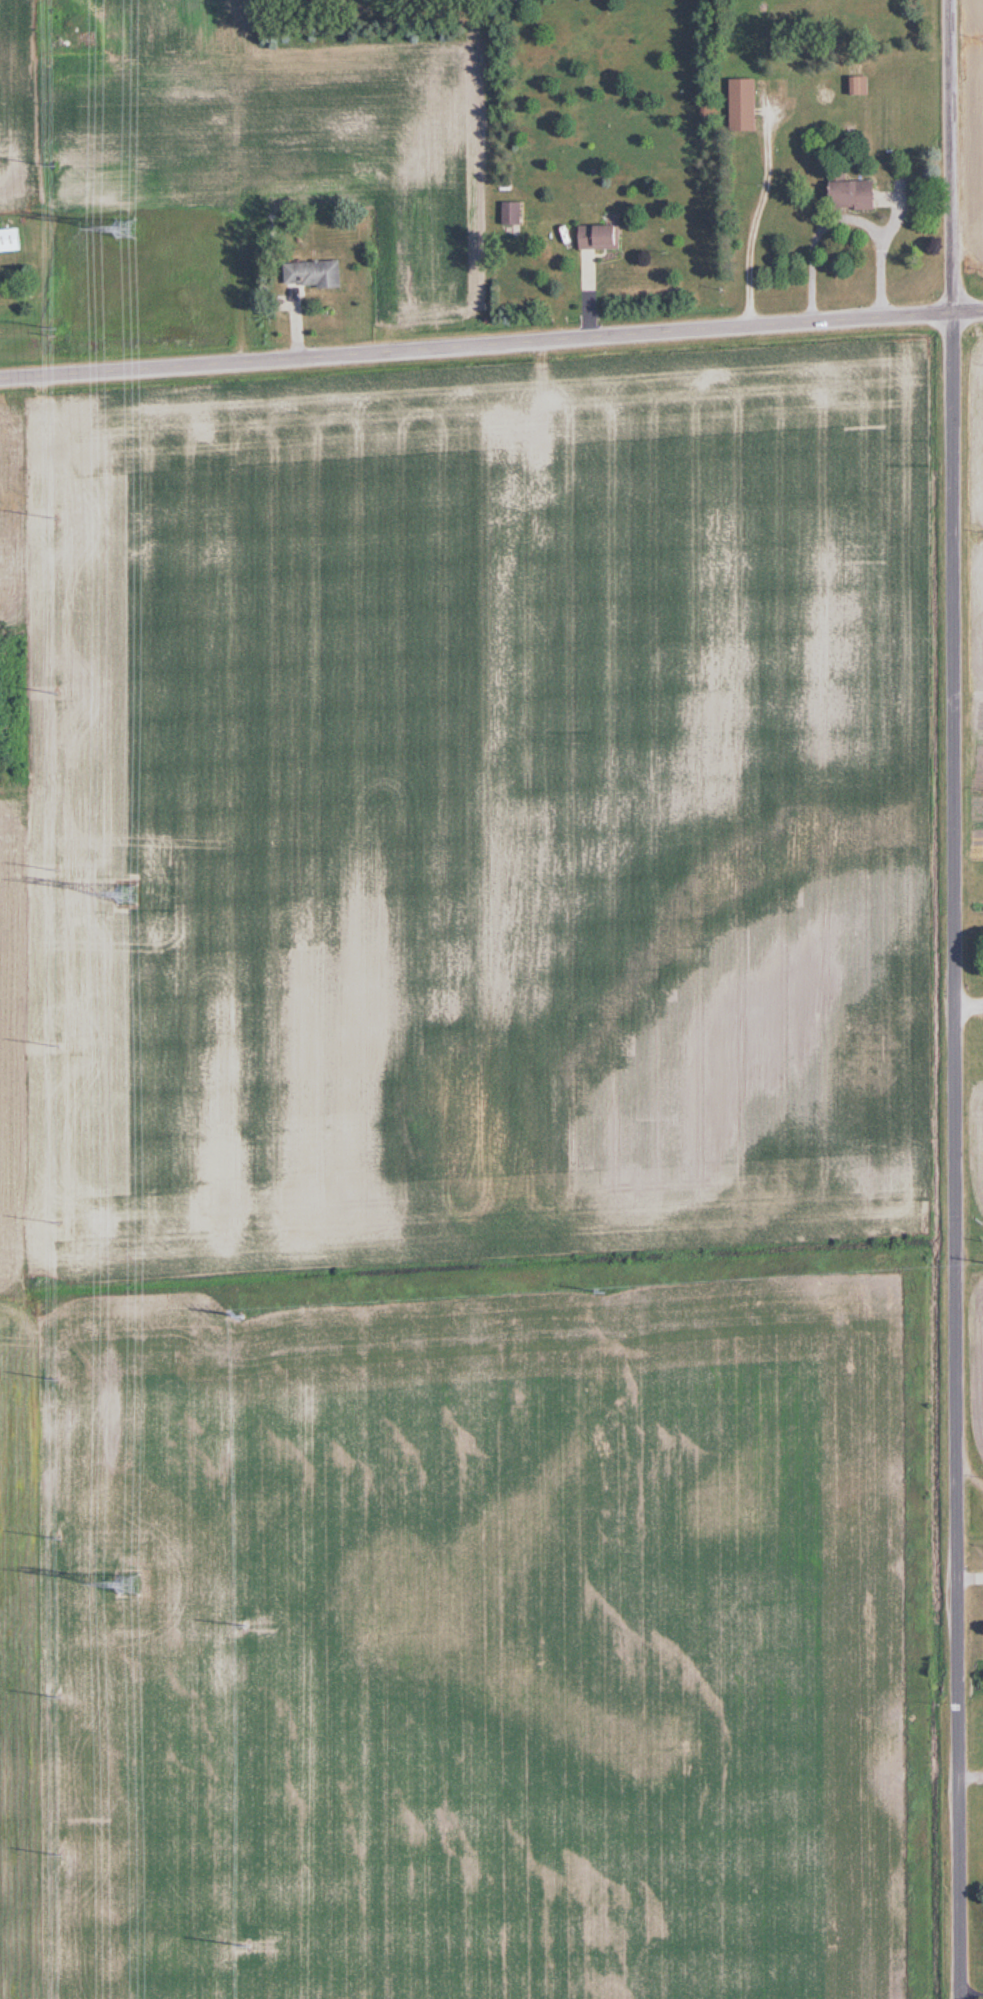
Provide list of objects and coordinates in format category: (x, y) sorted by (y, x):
building: (864, 85)
building: (749, 104)
power tower: (58, 163)
building: (862, 192)
building: (516, 212)
road: (757, 215)
power tower: (128, 227)
building: (604, 236)
building: (12, 240)
building: (317, 273)
road: (589, 295)
road: (296, 322)
power tower: (58, 327)
road: (491, 343)
power tower: (58, 518)
power tower: (59, 692)
power tower: (59, 870)
power tower: (128, 895)
road: (948, 999)
power tower: (62, 1046)
power tower: (59, 1222)
power tower: (614, 1290)
power tower: (246, 1313)
power tower: (59, 1380)
power tower: (58, 1538)
power tower: (128, 1585)
power tower: (246, 1624)
power tower: (58, 1695)
power tower: (59, 1855)
power tower: (246, 1943)
road: (965, 1990)

